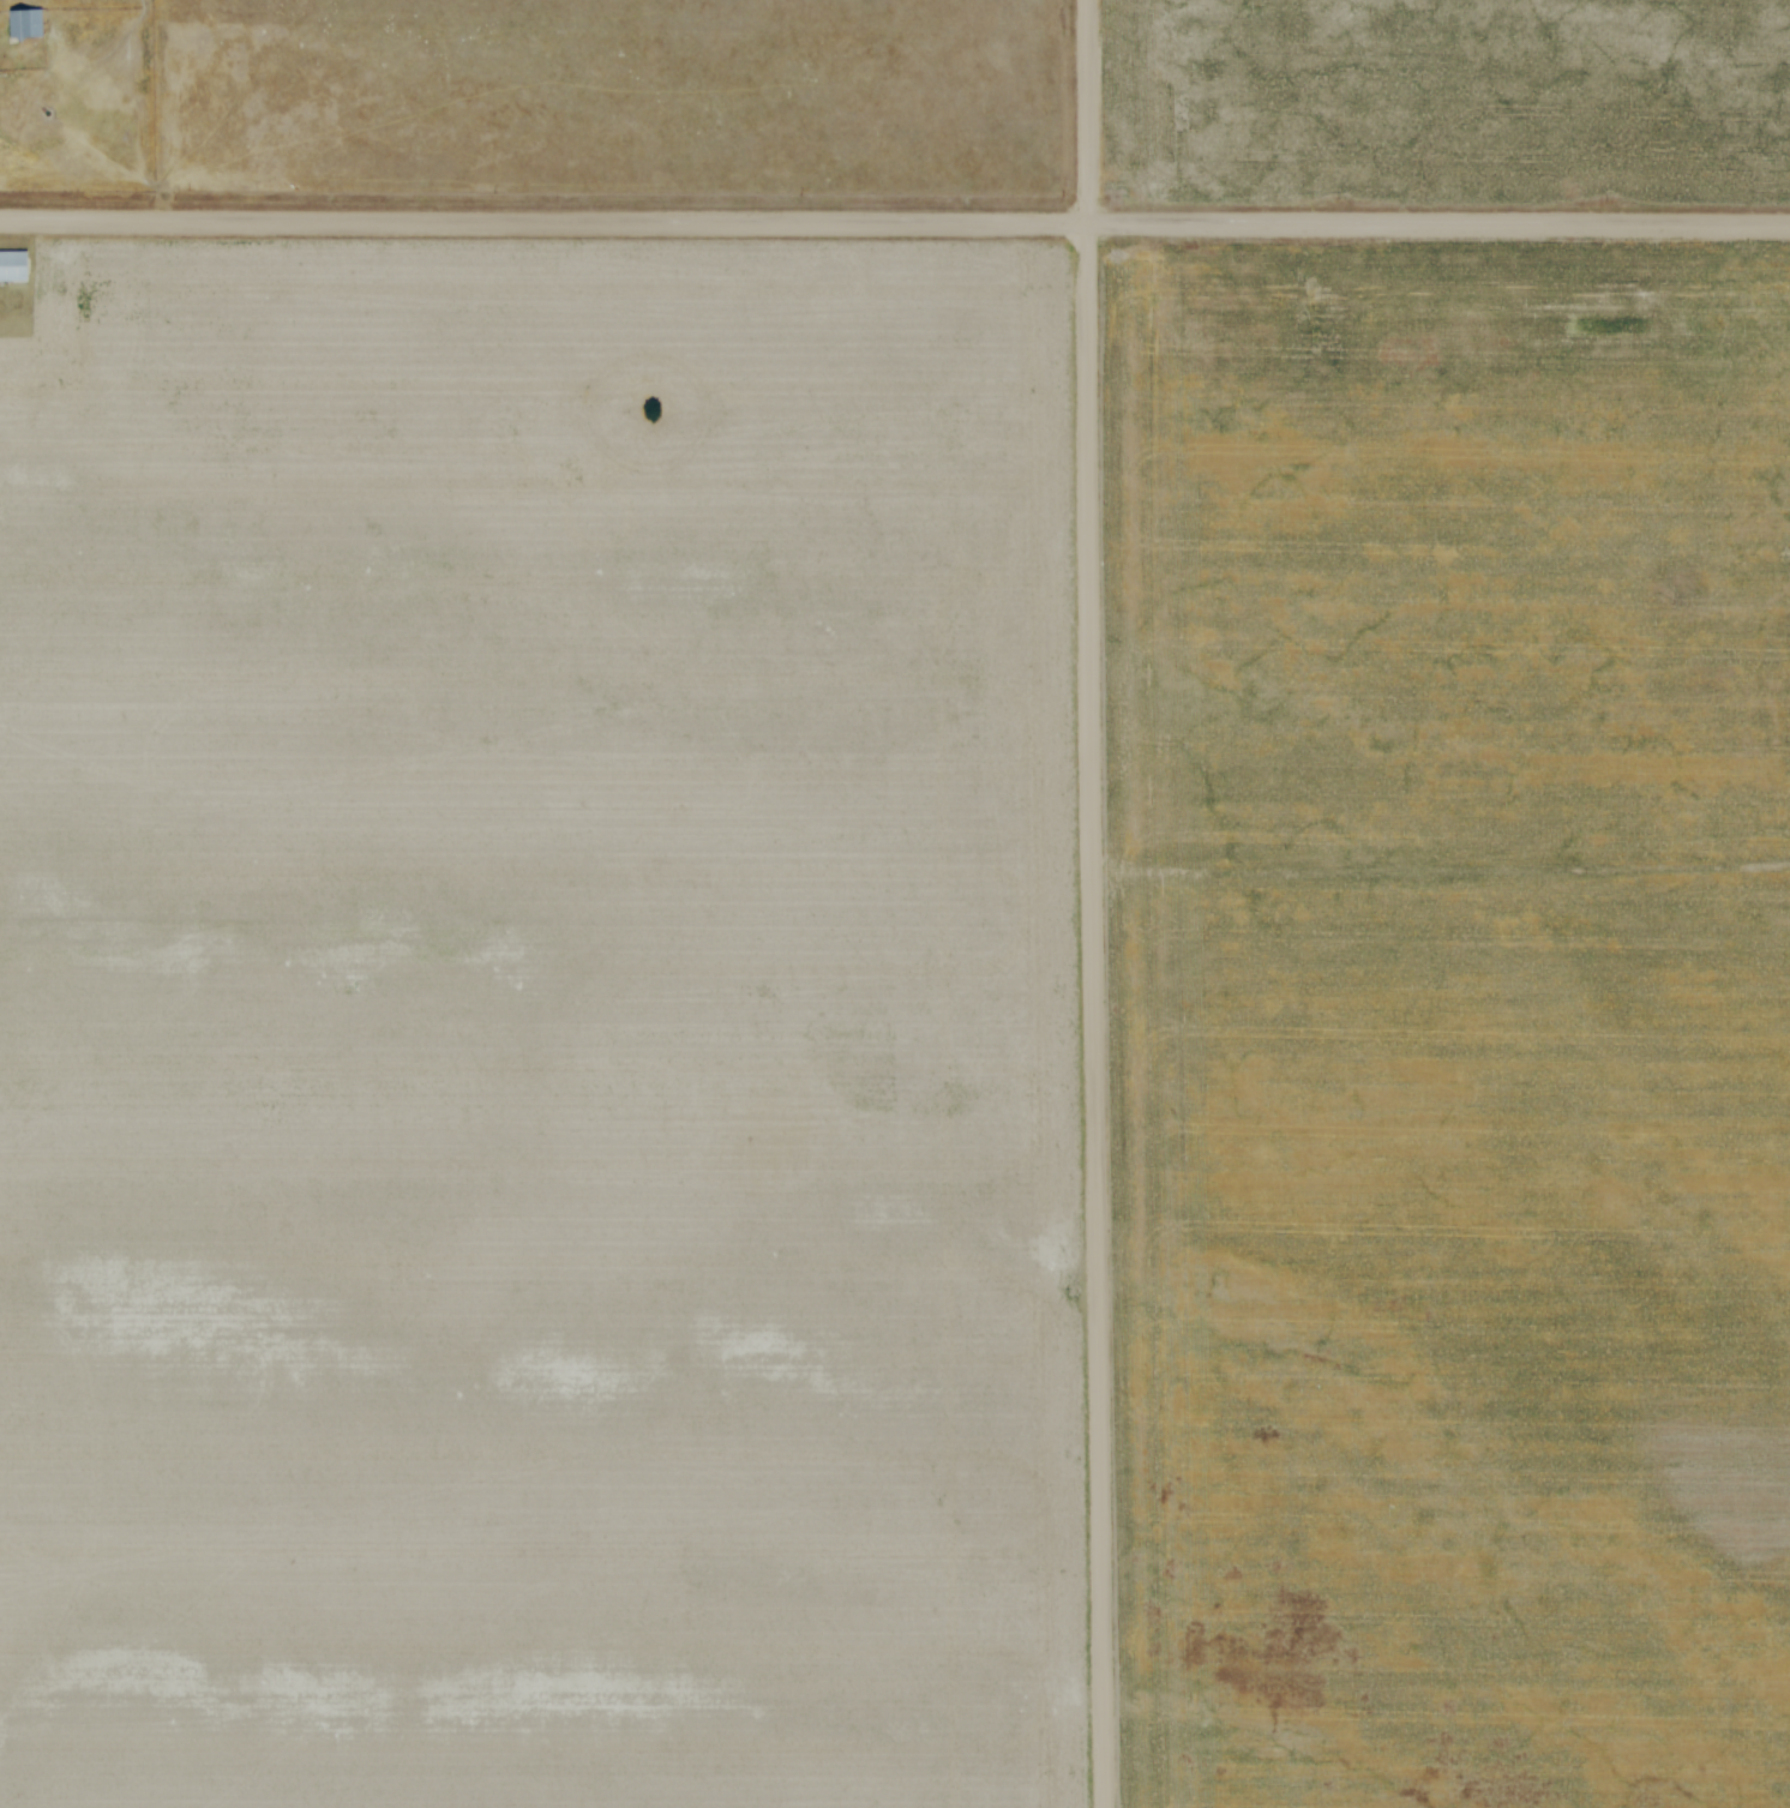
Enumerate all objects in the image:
building: (25, 23)
road: (895, 222)
building: (12, 269)
road: (1441, 877)
road: (1093, 903)
crop: (537, 1029)
crop: (1446, 1073)

